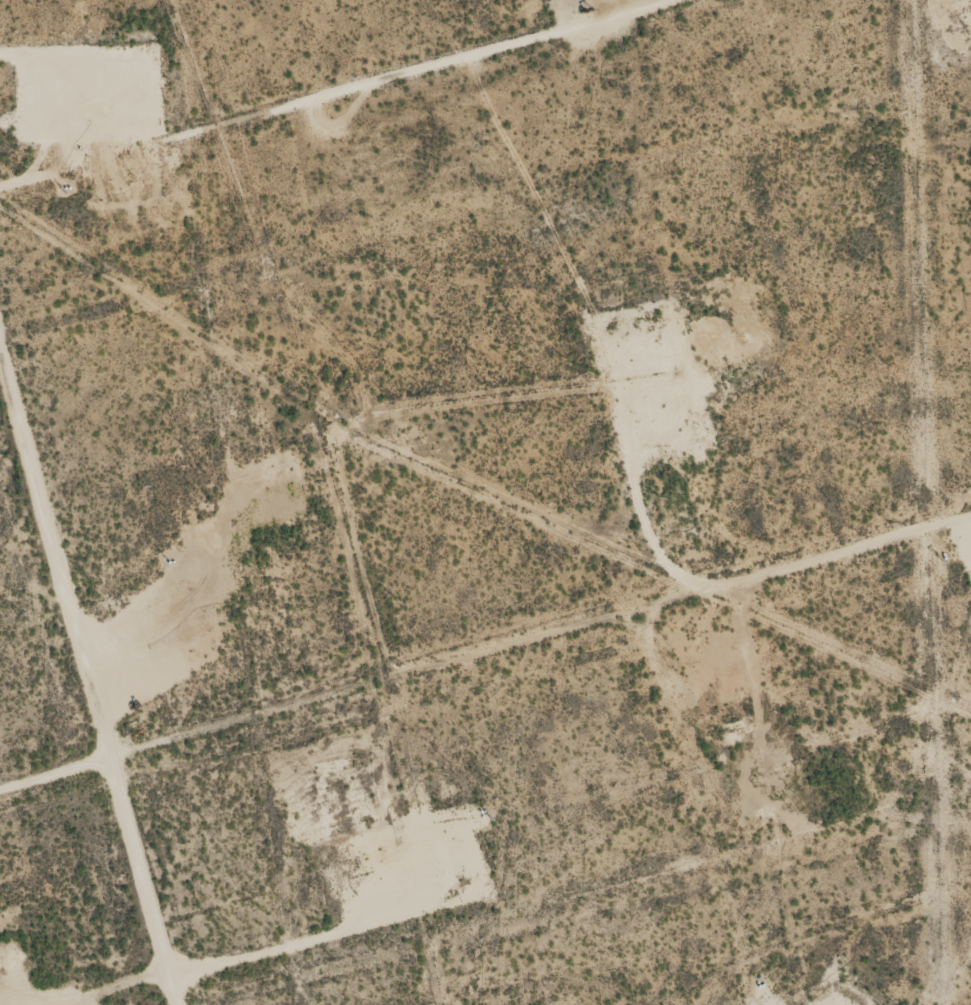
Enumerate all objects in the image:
road: (382, 108)
road: (90, 654)
road: (485, 680)

